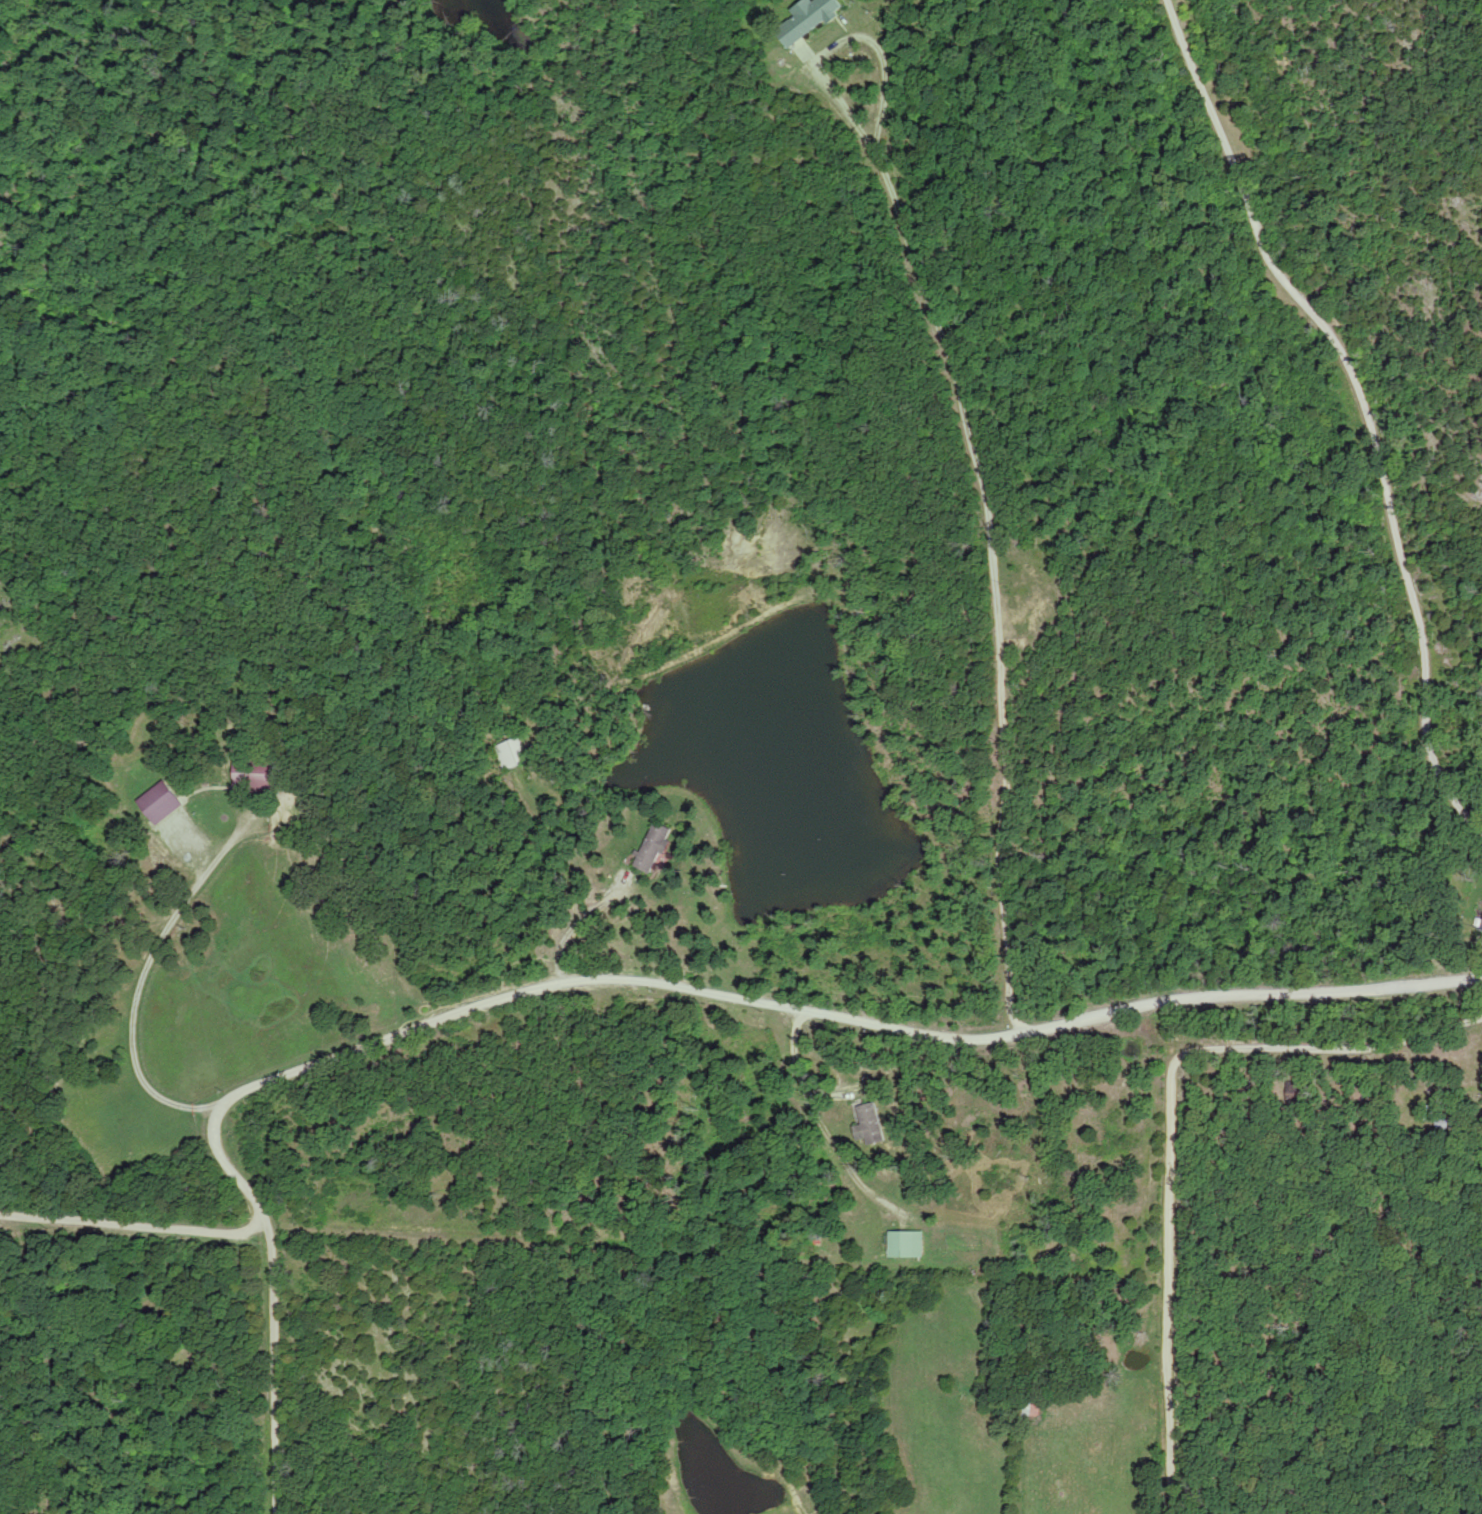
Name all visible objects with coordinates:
building: (809, 19)
road: (1364, 402)
road: (989, 551)
building: (512, 754)
building: (255, 772)
building: (160, 803)
building: (654, 848)
road: (635, 986)
building: (1295, 1093)
building: (870, 1126)
road: (1170, 1129)
road: (130, 1223)
building: (907, 1245)
building: (1031, 1412)

